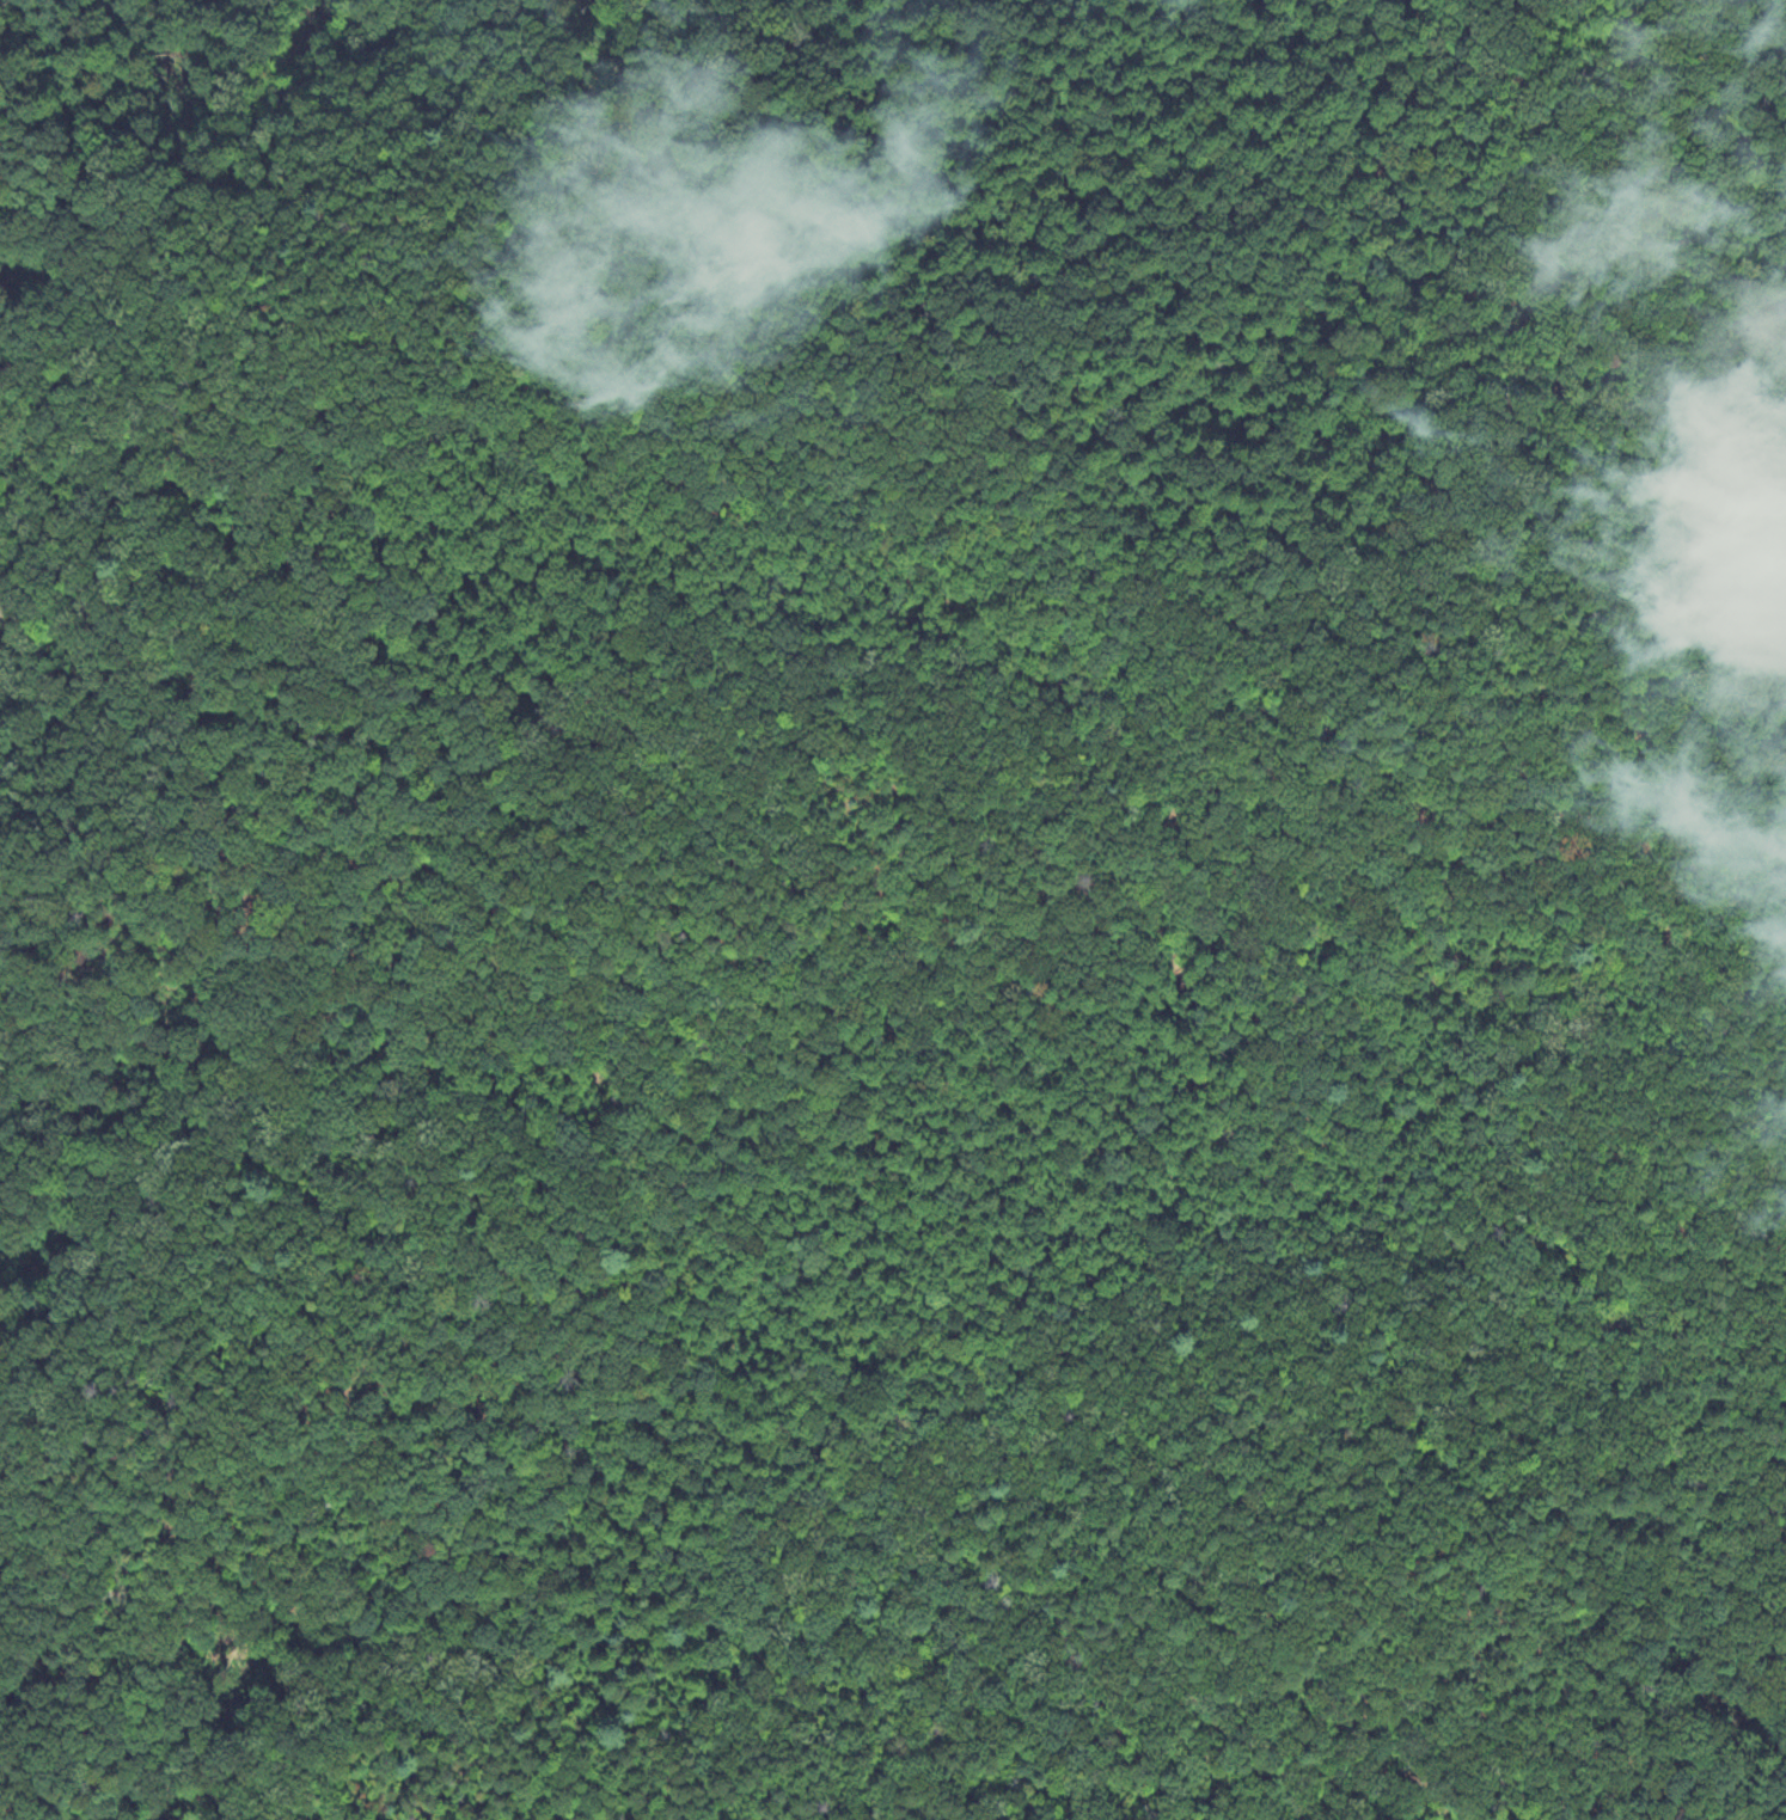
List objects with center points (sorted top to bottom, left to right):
road: (1778, 11)
road: (1363, 81)
road: (1103, 127)
road: (1689, 292)

